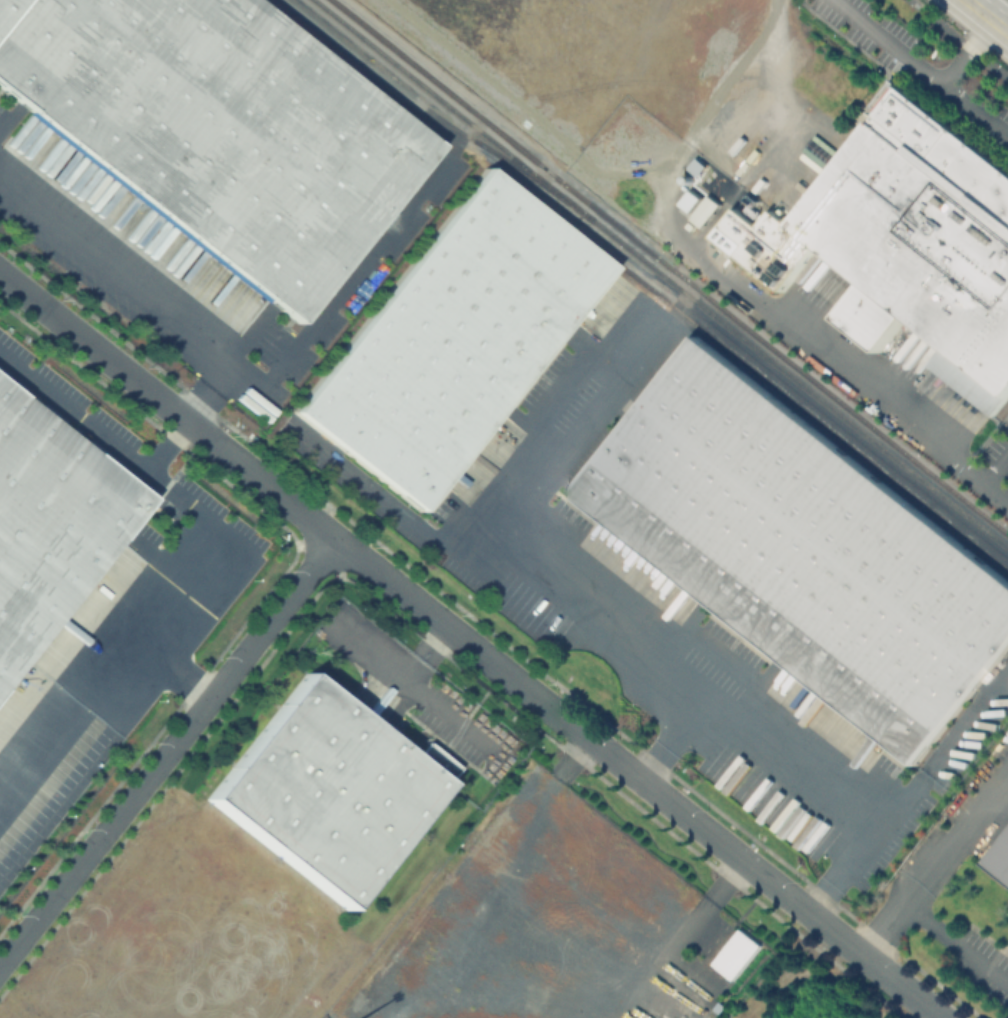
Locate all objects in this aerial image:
road: (987, 16)
road: (958, 39)
road: (889, 41)
road: (943, 84)
railway: (423, 117)
building: (217, 132)
building: (708, 210)
building: (906, 253)
road: (120, 258)
railway: (669, 268)
railway: (659, 274)
road: (343, 298)
road: (770, 309)
building: (451, 340)
road: (226, 366)
railway: (748, 369)
road: (561, 381)
road: (169, 446)
road: (994, 464)
road: (397, 512)
building: (50, 526)
road: (508, 533)
building: (803, 550)
road: (198, 555)
road: (440, 636)
road: (473, 645)
road: (722, 650)
road: (368, 651)
road: (411, 668)
road: (171, 670)
road: (448, 715)
road: (169, 754)
road: (574, 758)
road: (796, 758)
building: (329, 791)
road: (955, 831)
building: (1001, 862)
road: (729, 879)
road: (934, 924)
road: (540, 951)
building: (737, 953)

